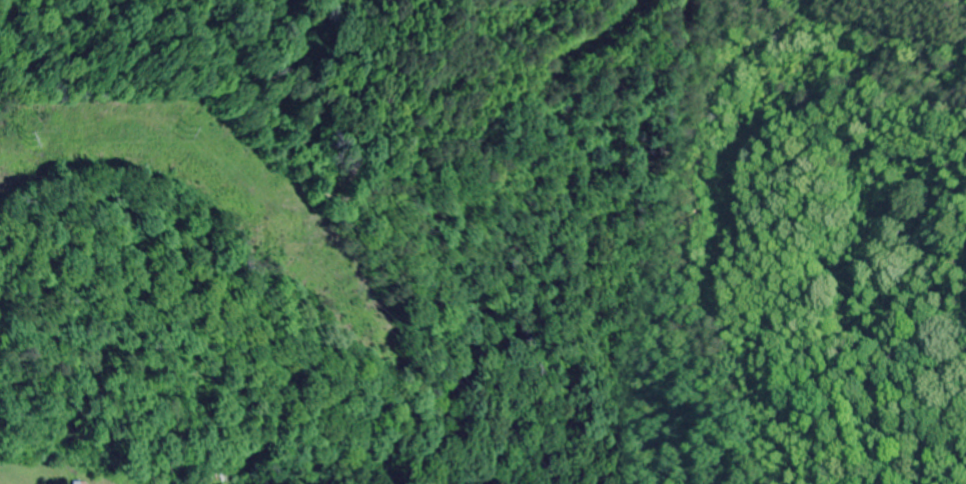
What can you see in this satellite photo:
power tower: (191, 131)
power tower: (39, 138)

